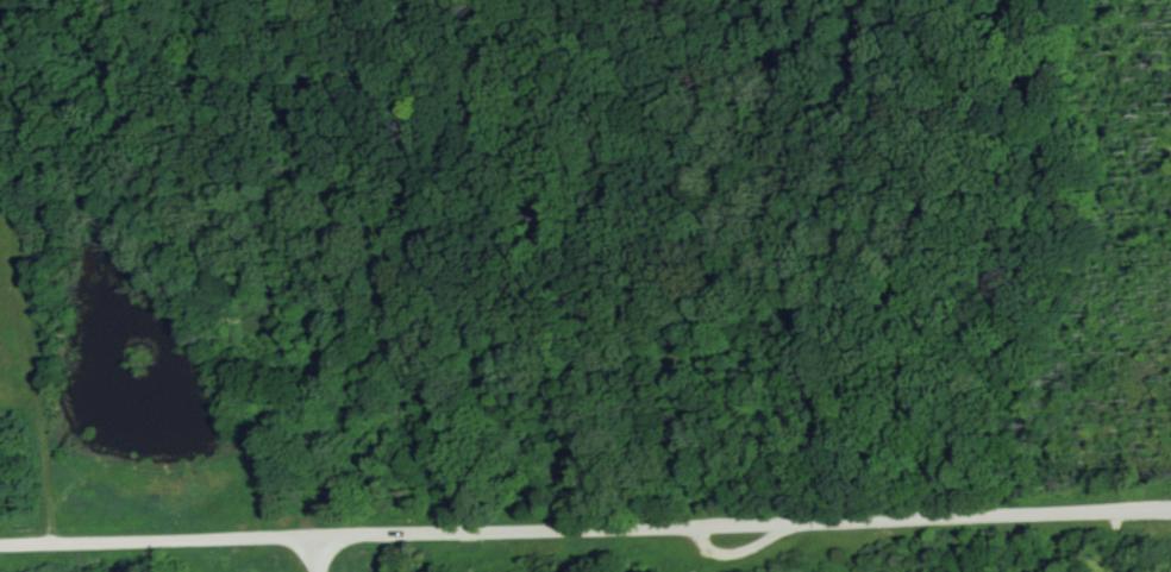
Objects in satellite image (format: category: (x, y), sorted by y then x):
park: (585, 285)
road: (585, 527)
road: (311, 554)

